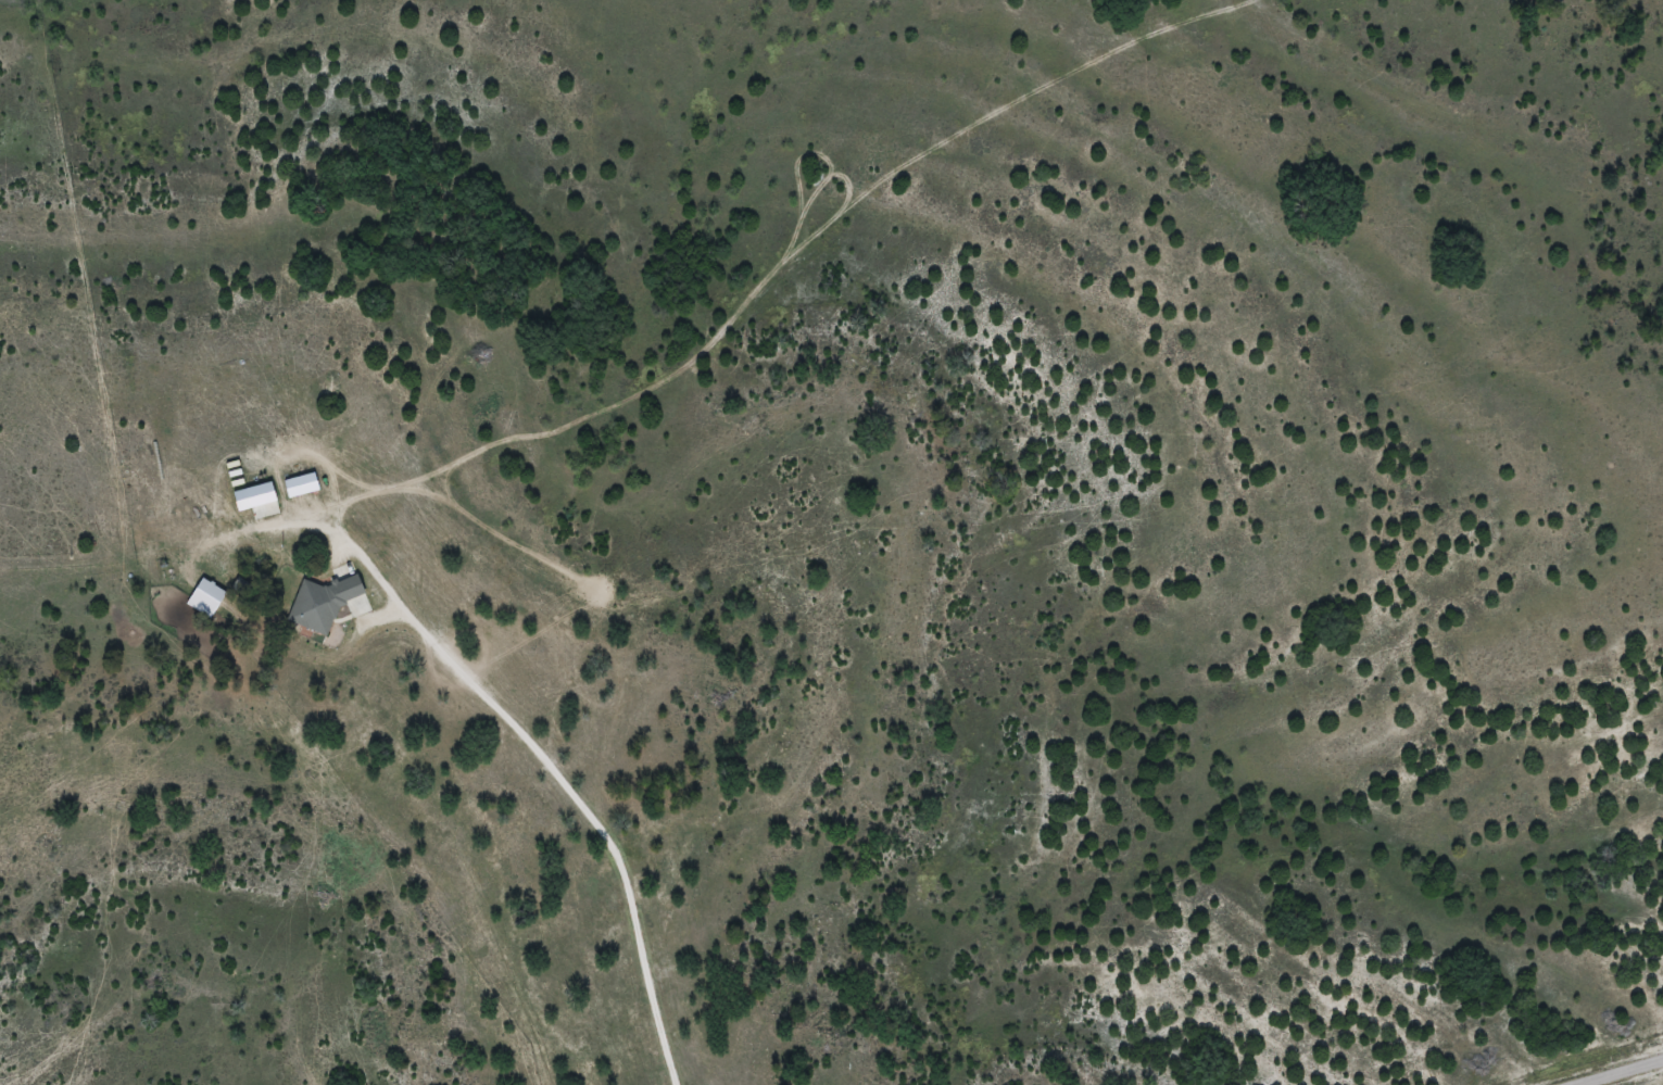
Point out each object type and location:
road: (1623, 1073)

